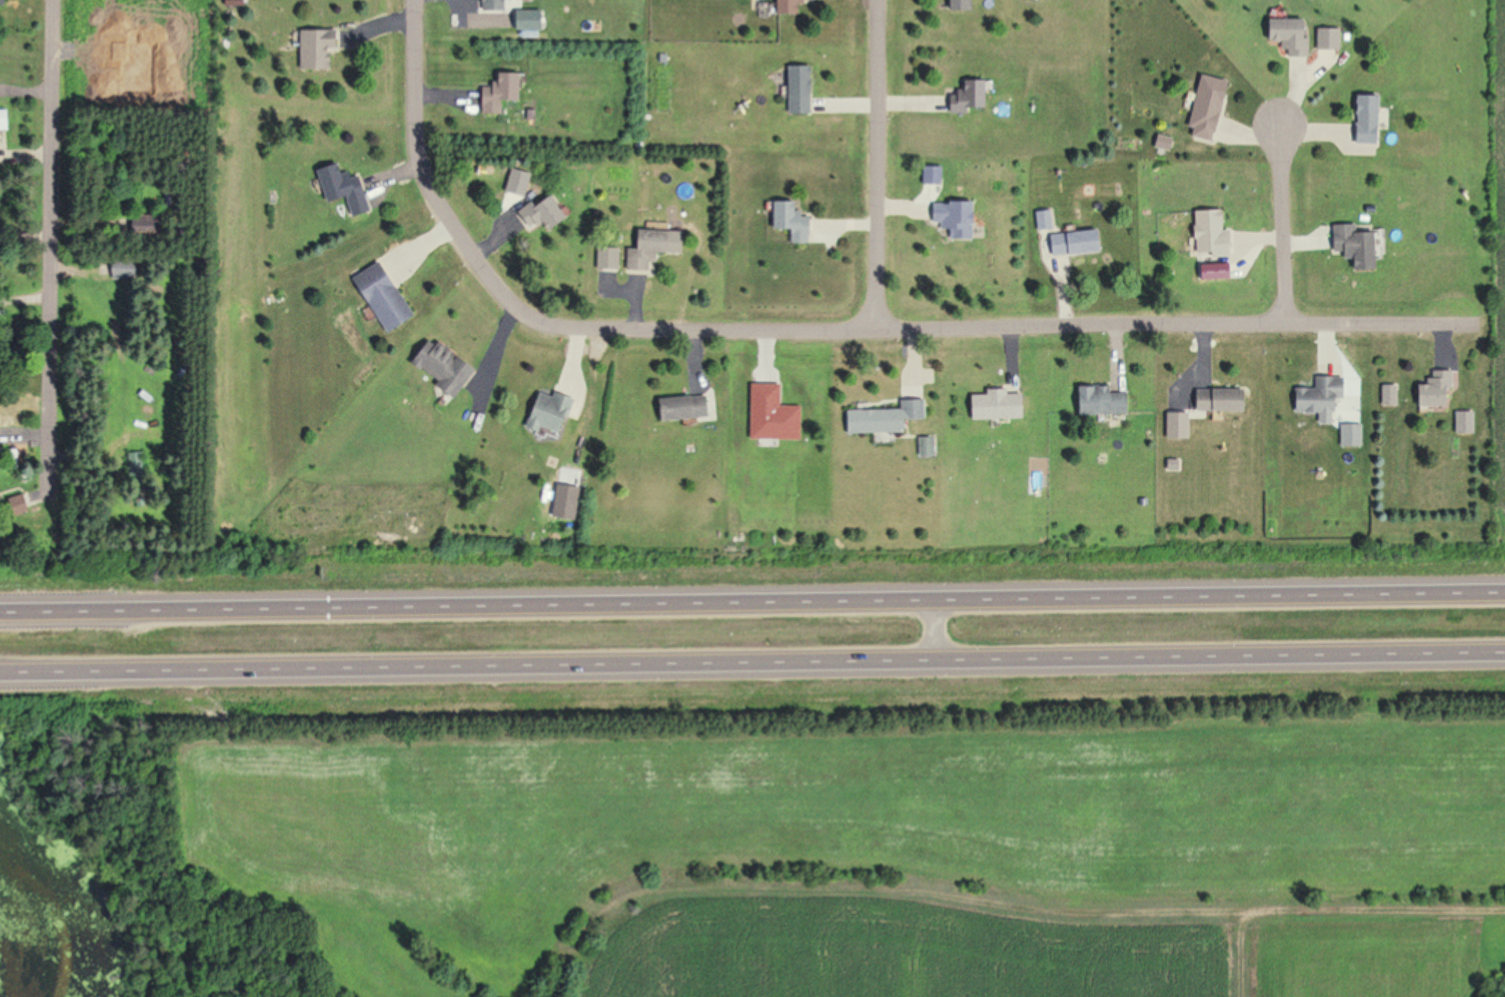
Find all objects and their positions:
building: (3, 1)
building: (497, 5)
building: (963, 5)
building: (791, 6)
building: (1287, 33)
building: (1327, 38)
building: (320, 48)
building: (510, 86)
building: (802, 88)
road: (25, 91)
building: (974, 95)
building: (1203, 106)
building: (1364, 114)
building: (6, 119)
road: (873, 166)
road: (428, 172)
building: (346, 190)
building: (546, 212)
building: (953, 212)
building: (794, 221)
road: (1284, 221)
building: (1208, 232)
building: (1073, 242)
building: (1353, 246)
road: (50, 247)
building: (657, 247)
building: (609, 257)
crop: (1498, 289)
building: (387, 296)
road: (1000, 327)
building: (446, 365)
building: (1432, 391)
building: (1387, 395)
building: (1318, 397)
building: (1217, 399)
building: (1098, 400)
building: (998, 405)
building: (687, 407)
building: (550, 413)
building: (886, 418)
building: (16, 507)
road: (752, 599)
road: (752, 660)

